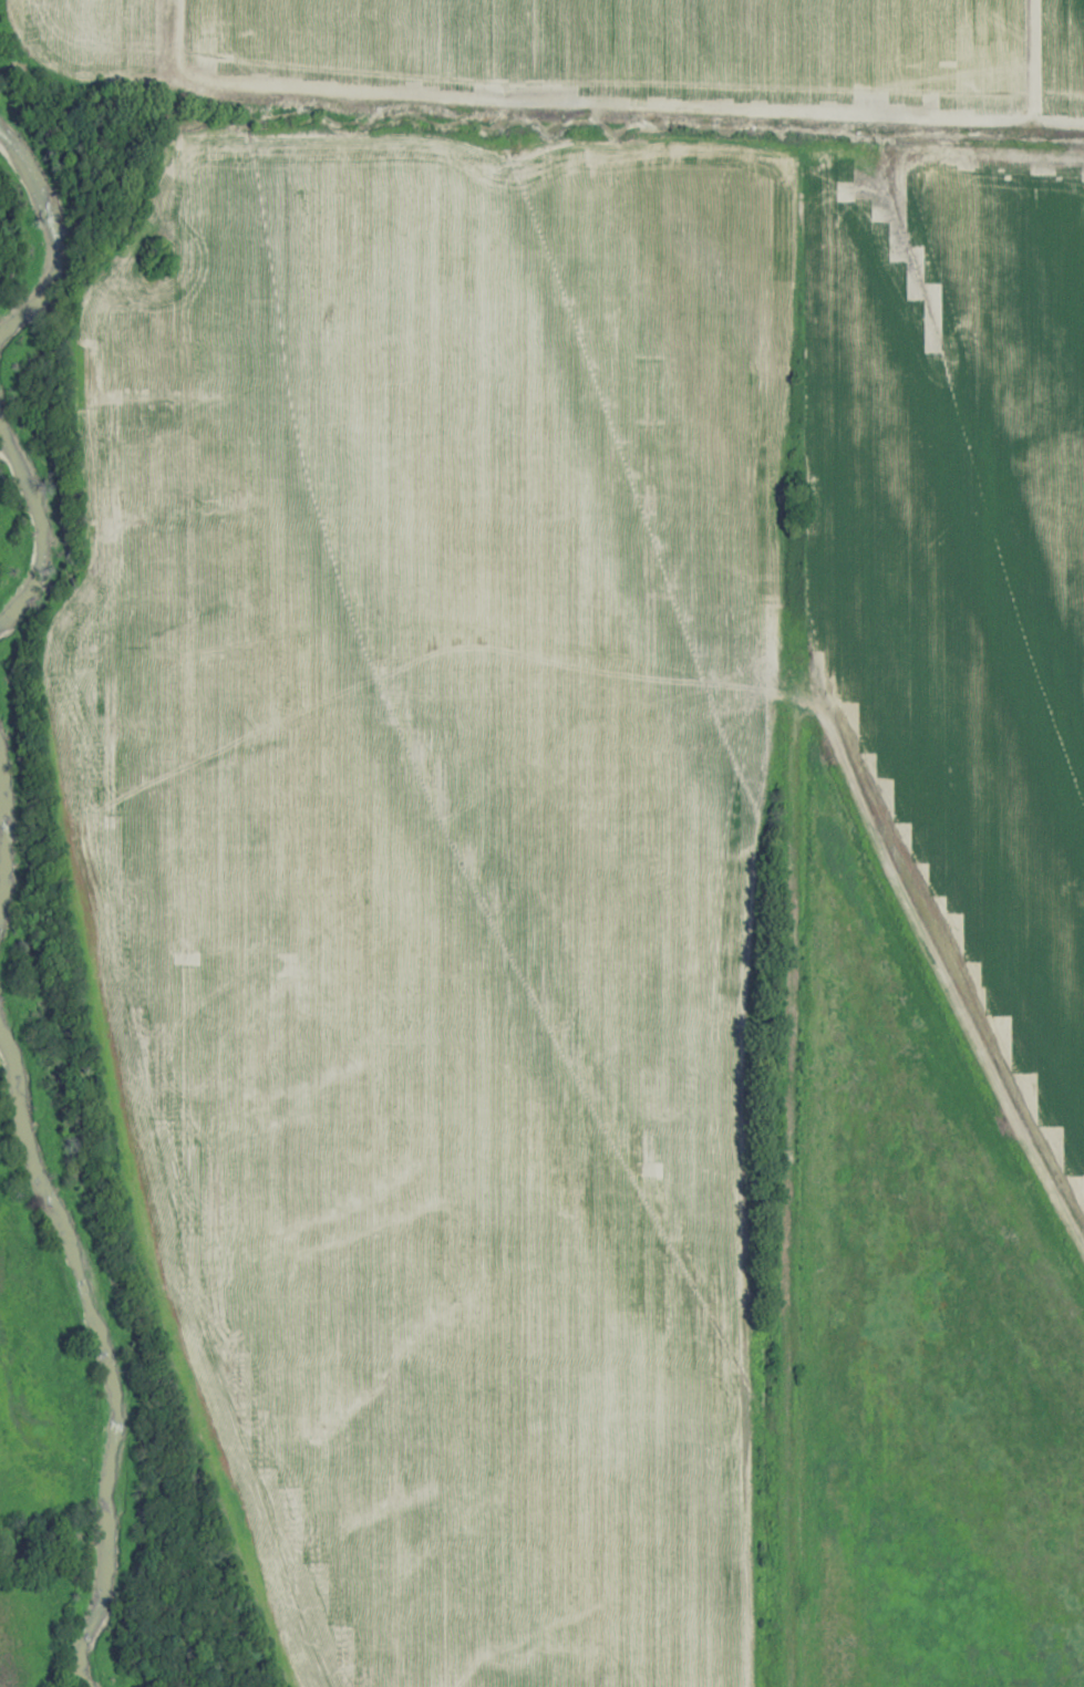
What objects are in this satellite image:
road: (878, 829)

